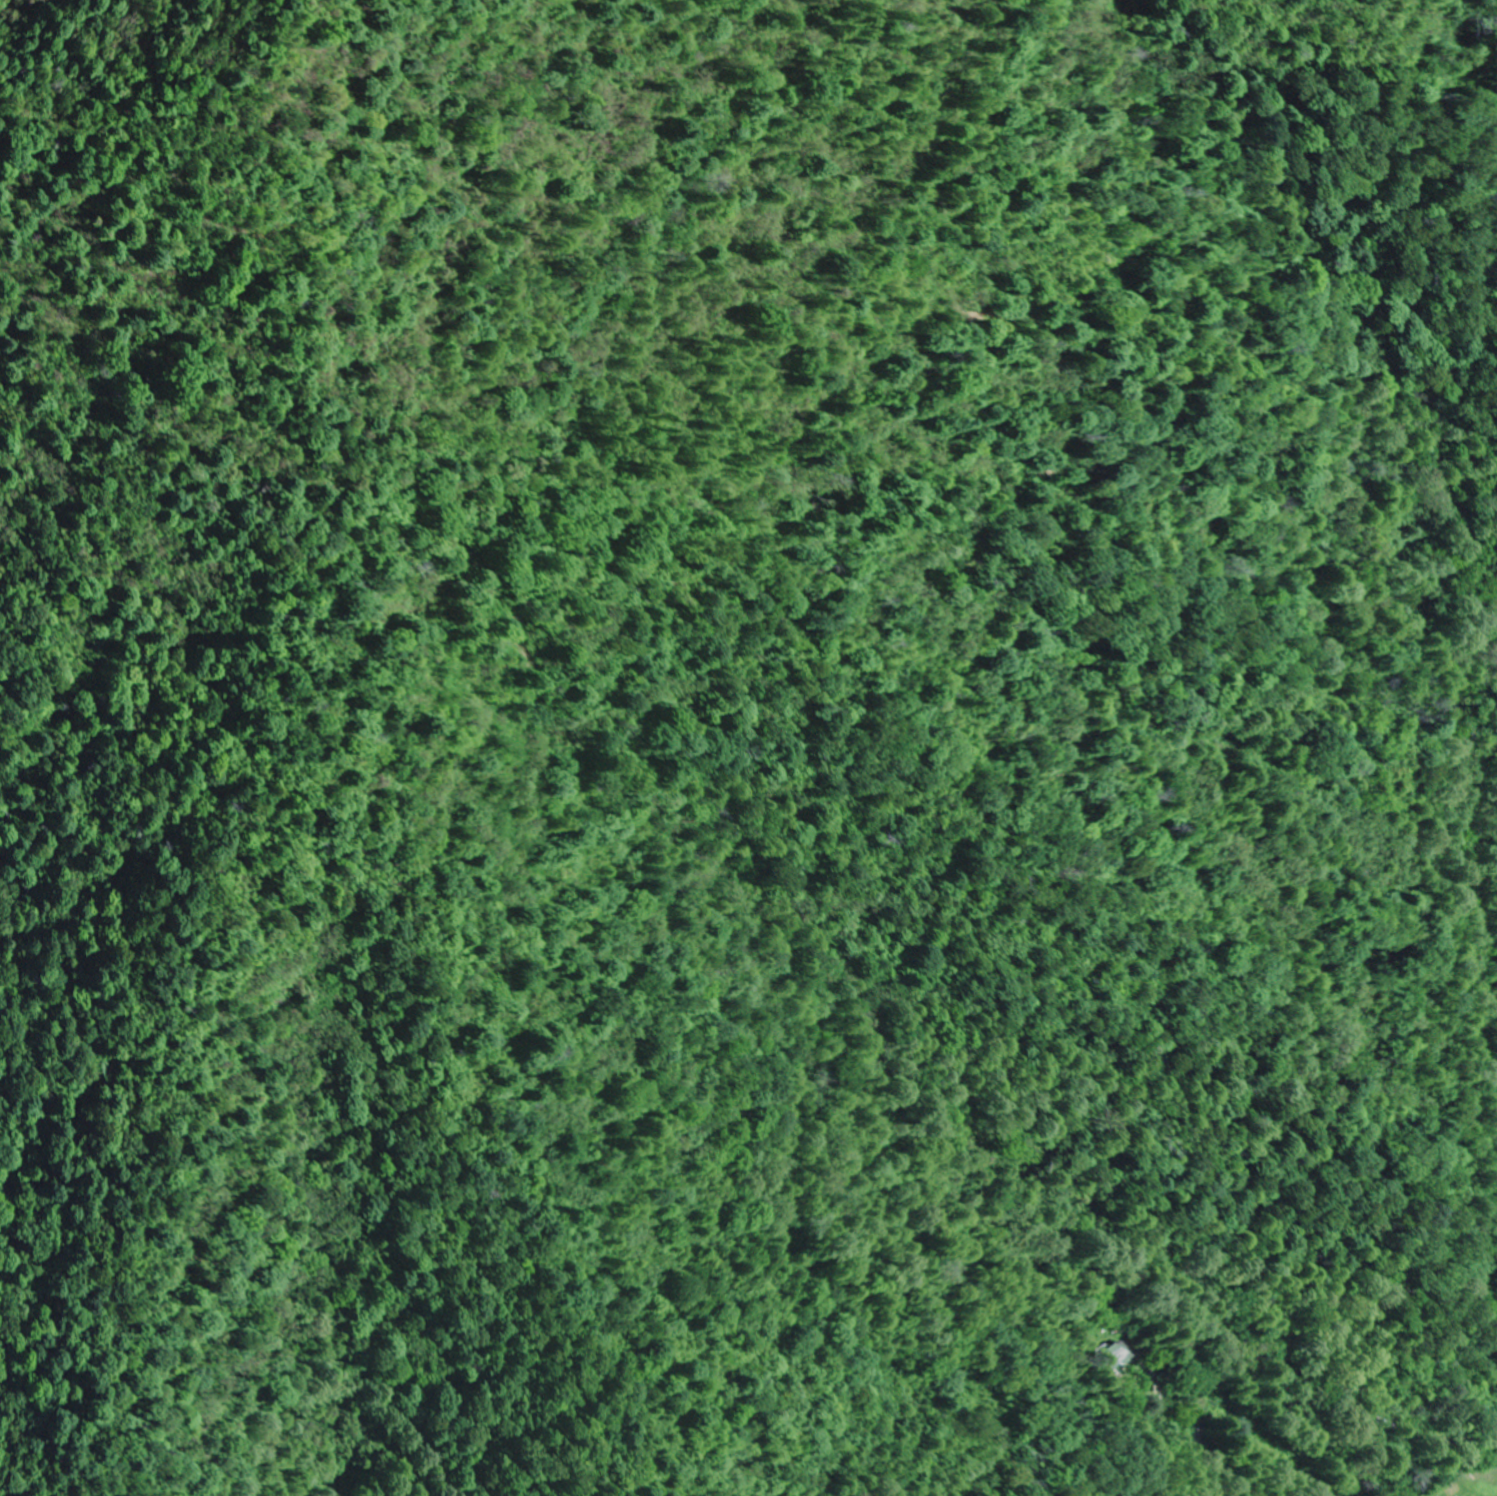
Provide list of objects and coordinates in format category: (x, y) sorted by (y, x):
road: (1254, 1349)
building: (1111, 1355)
park: (1431, 1478)

